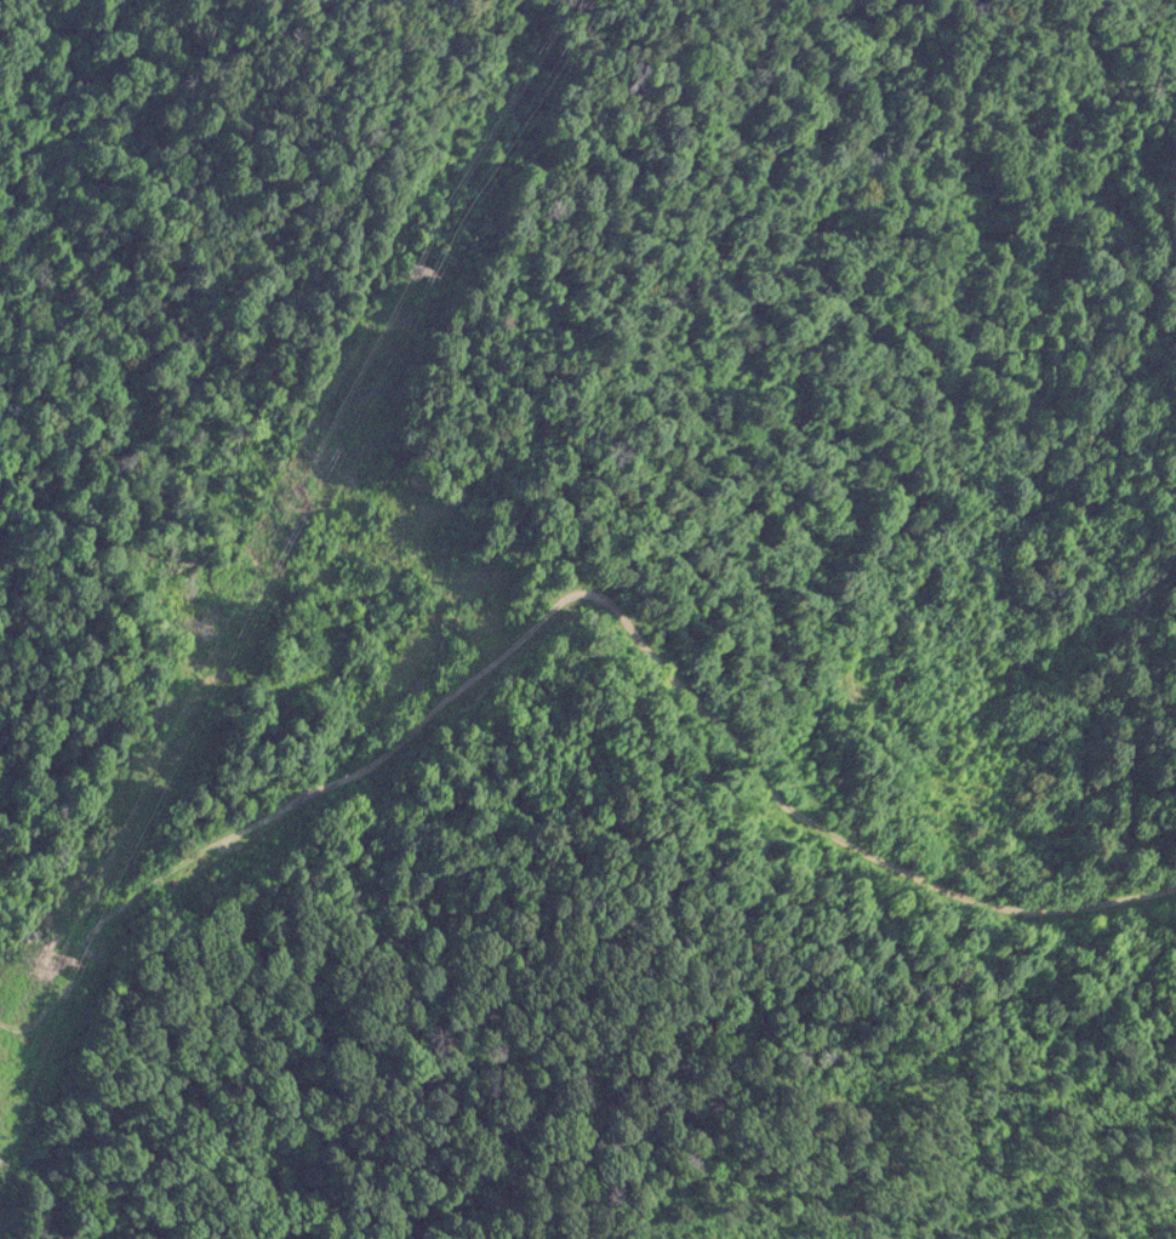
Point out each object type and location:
road: (1158, 16)
power tower: (61, 959)

